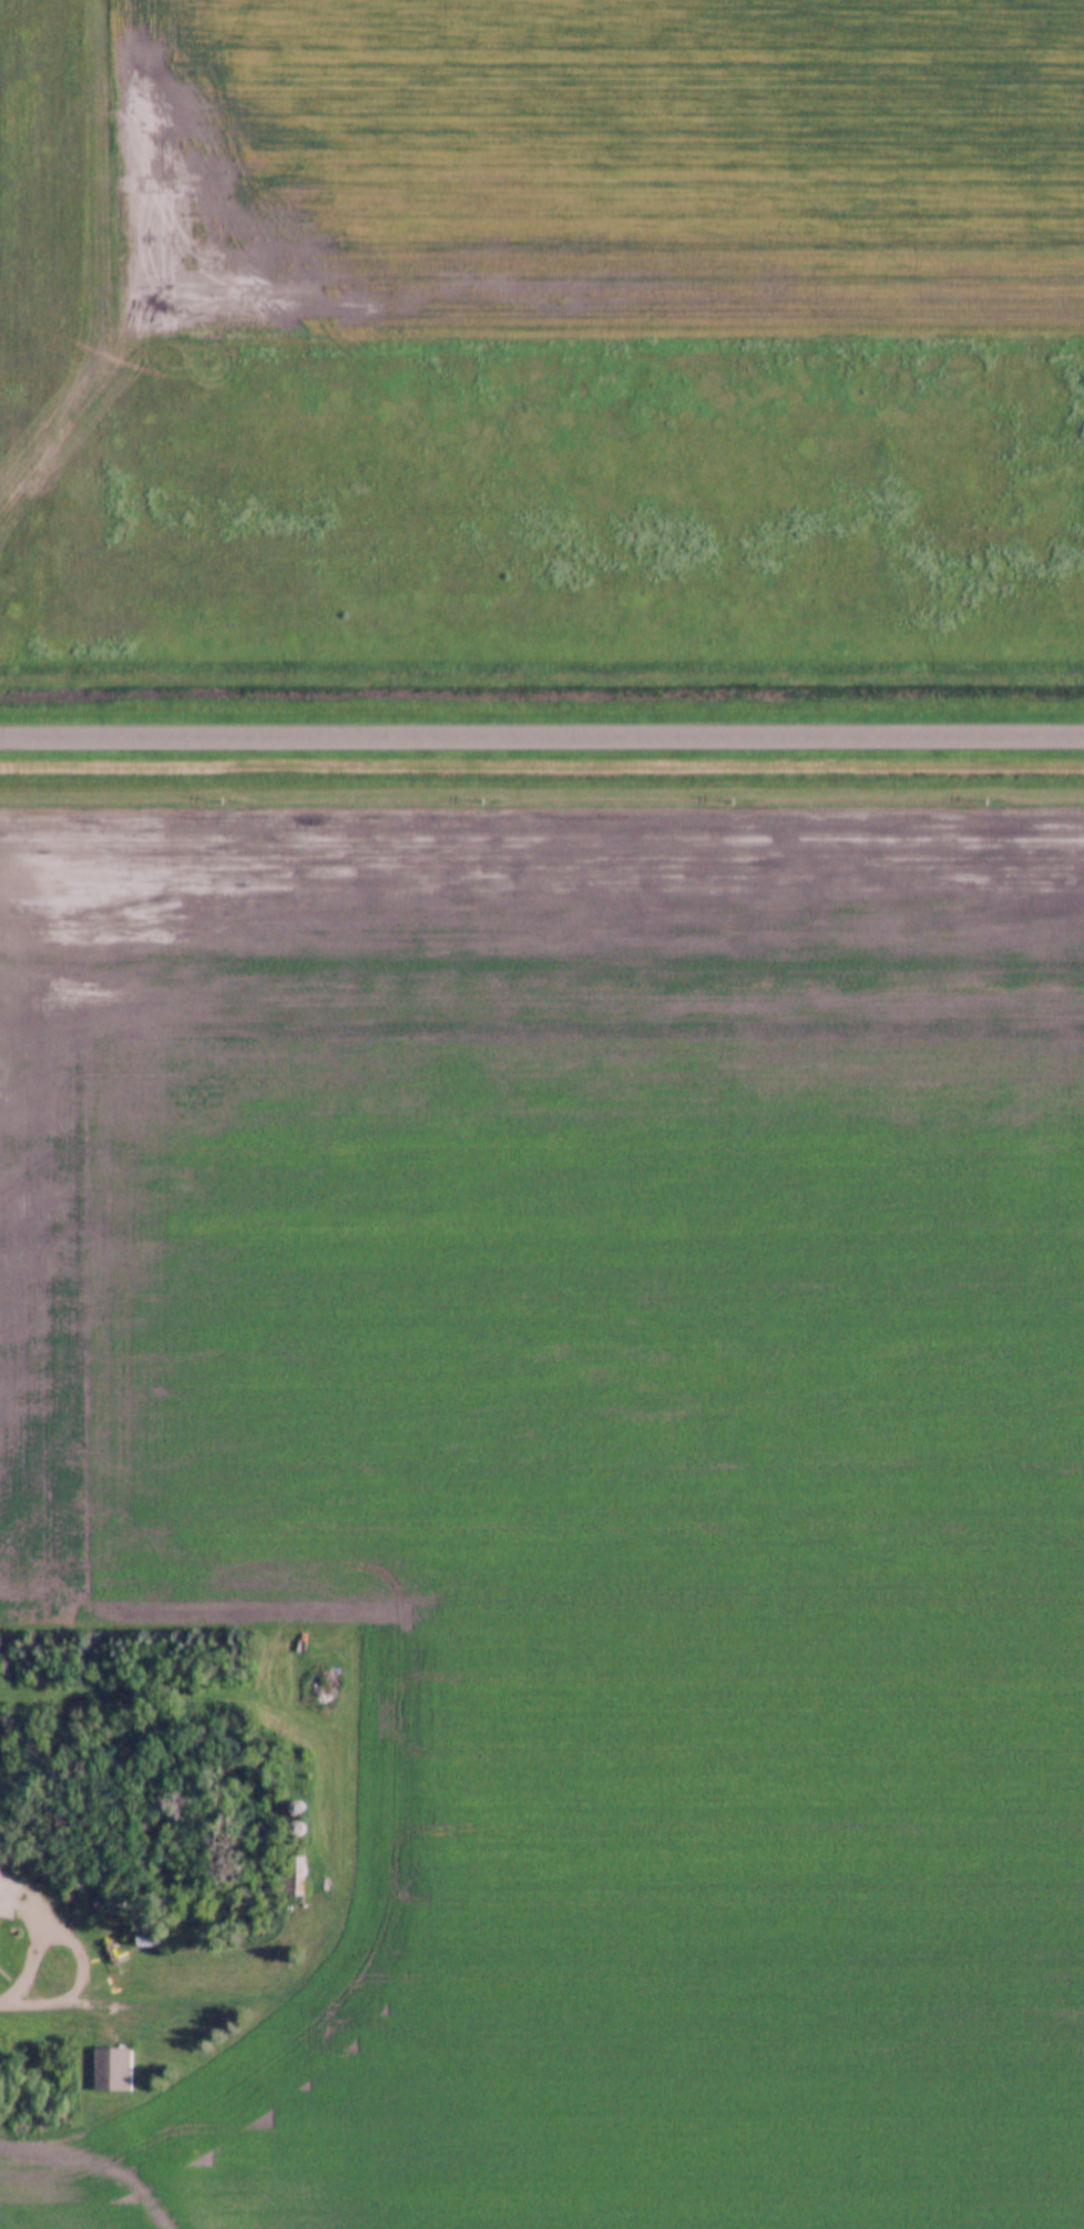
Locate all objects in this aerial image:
road: (541, 738)
building: (294, 1875)
building: (151, 1930)
road: (76, 1952)
road: (0, 2003)
building: (112, 2068)

